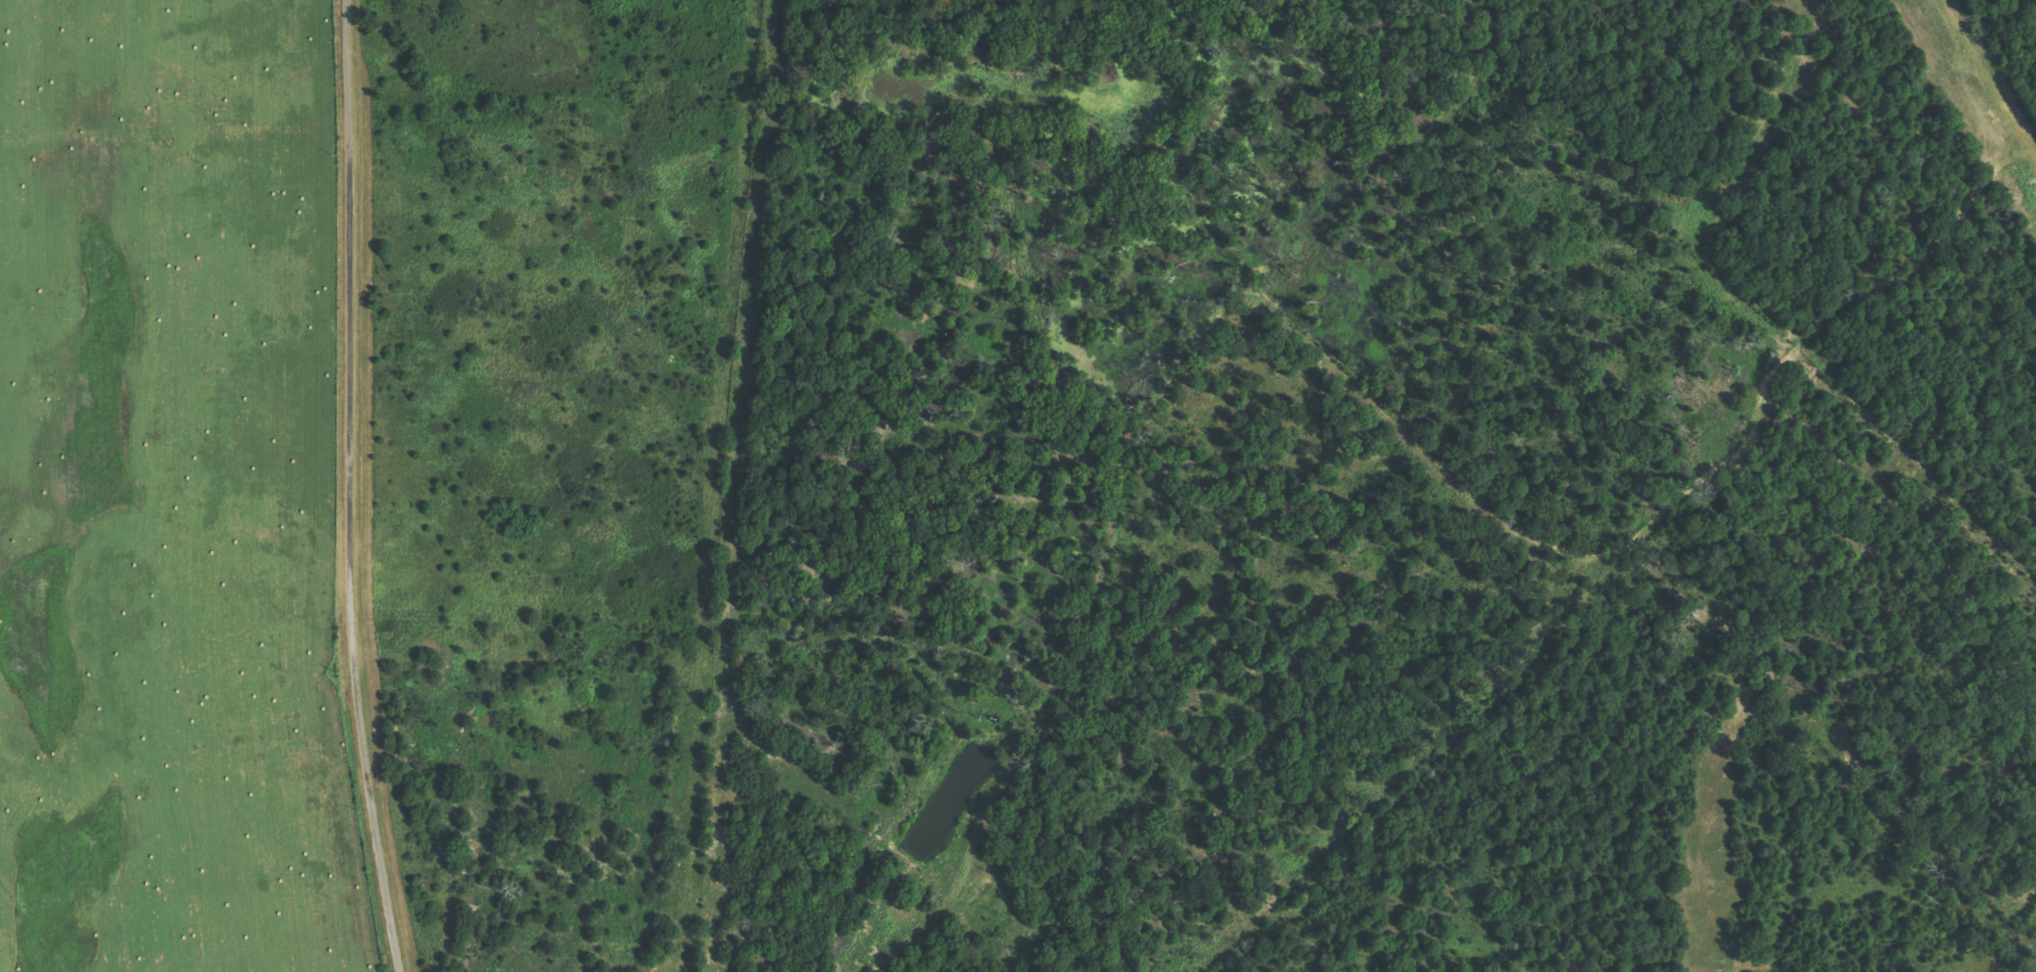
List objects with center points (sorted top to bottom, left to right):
road: (348, 487)

